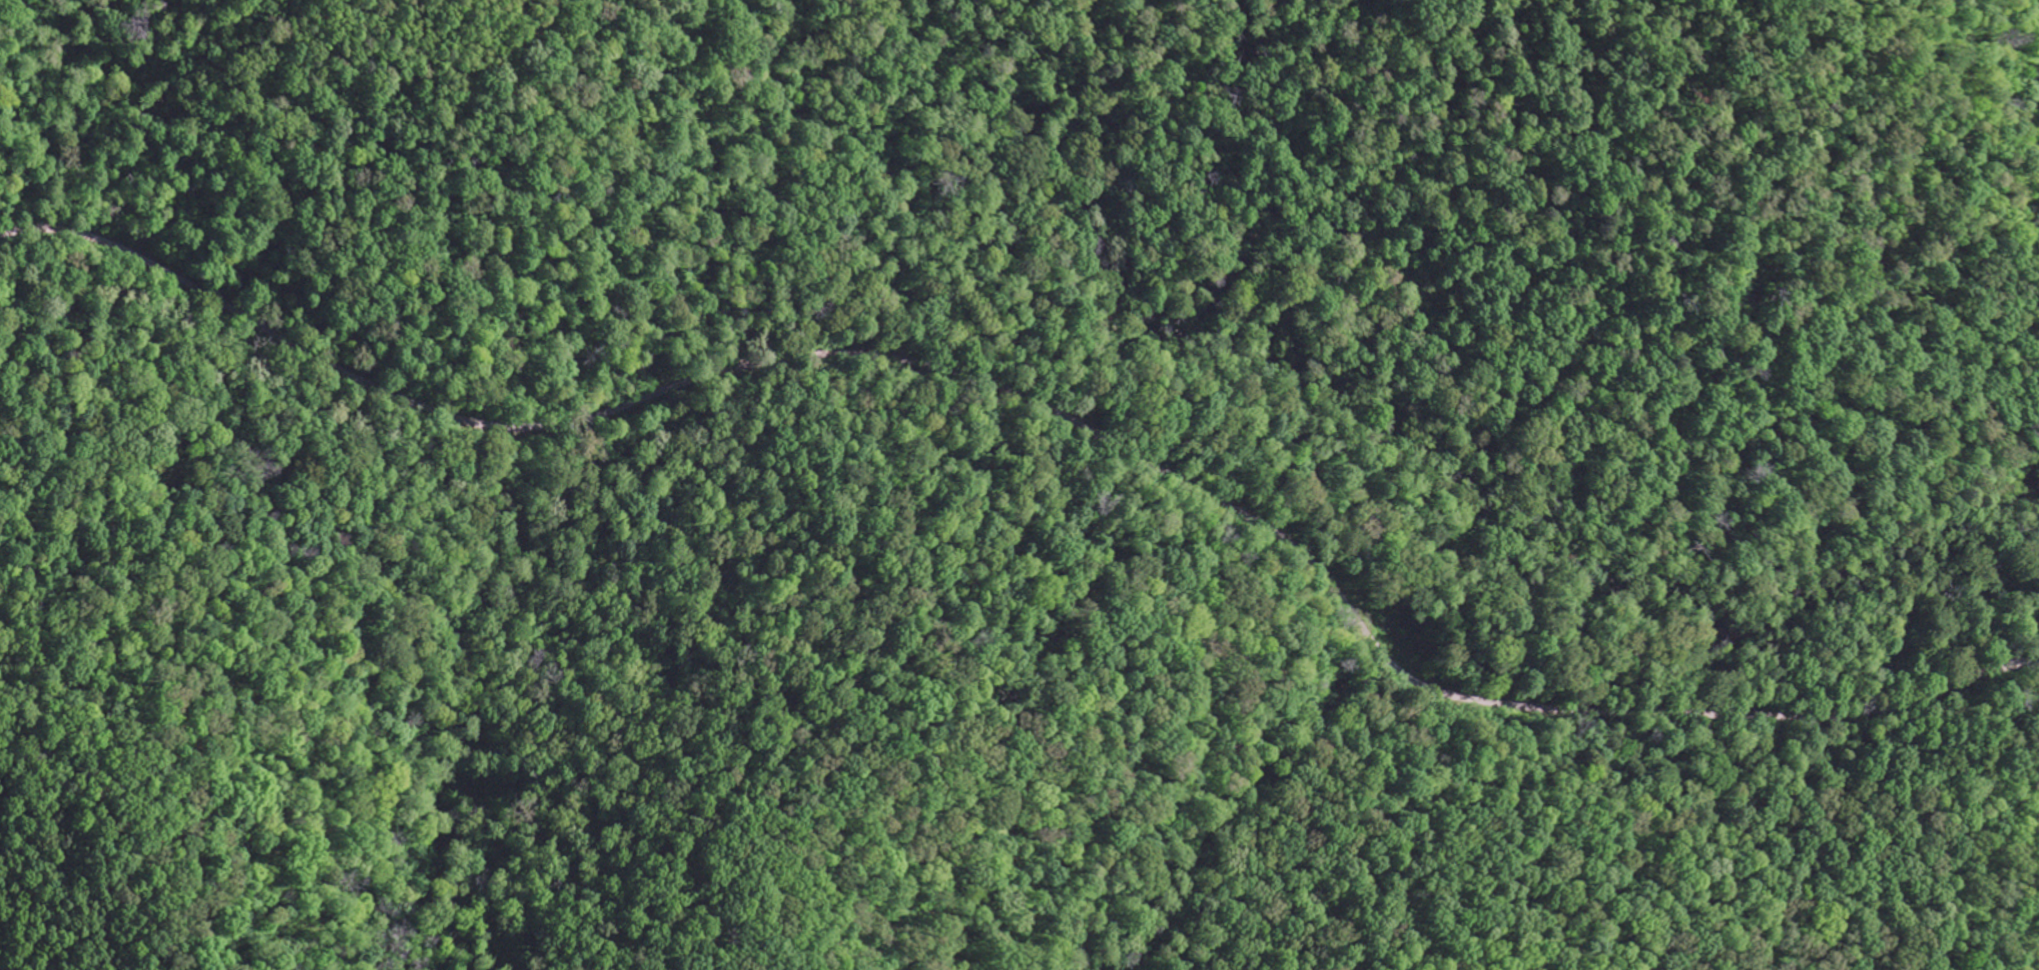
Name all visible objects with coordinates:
road: (1044, 398)

